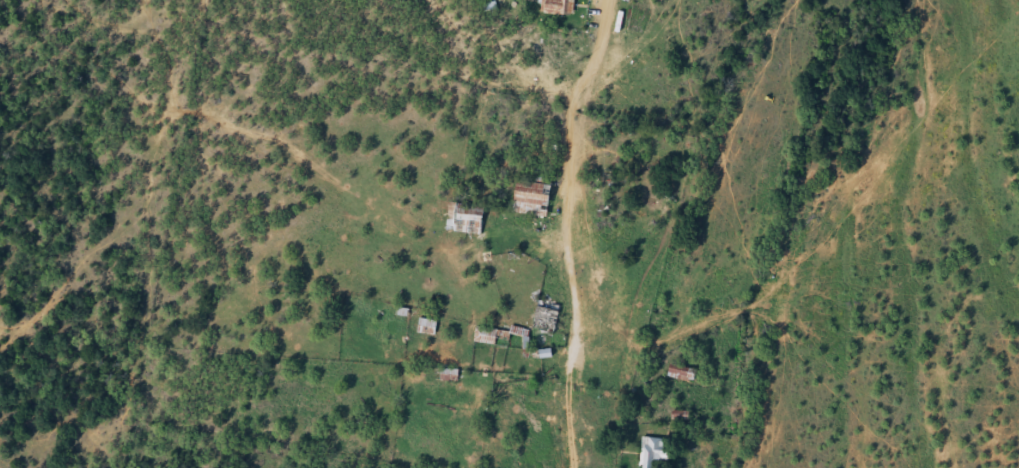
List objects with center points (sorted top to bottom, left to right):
building: (558, 8)
road: (601, 45)
building: (535, 199)
building: (466, 221)
road: (572, 276)
building: (547, 319)
building: (428, 329)
building: (487, 338)
building: (680, 375)
building: (656, 453)

